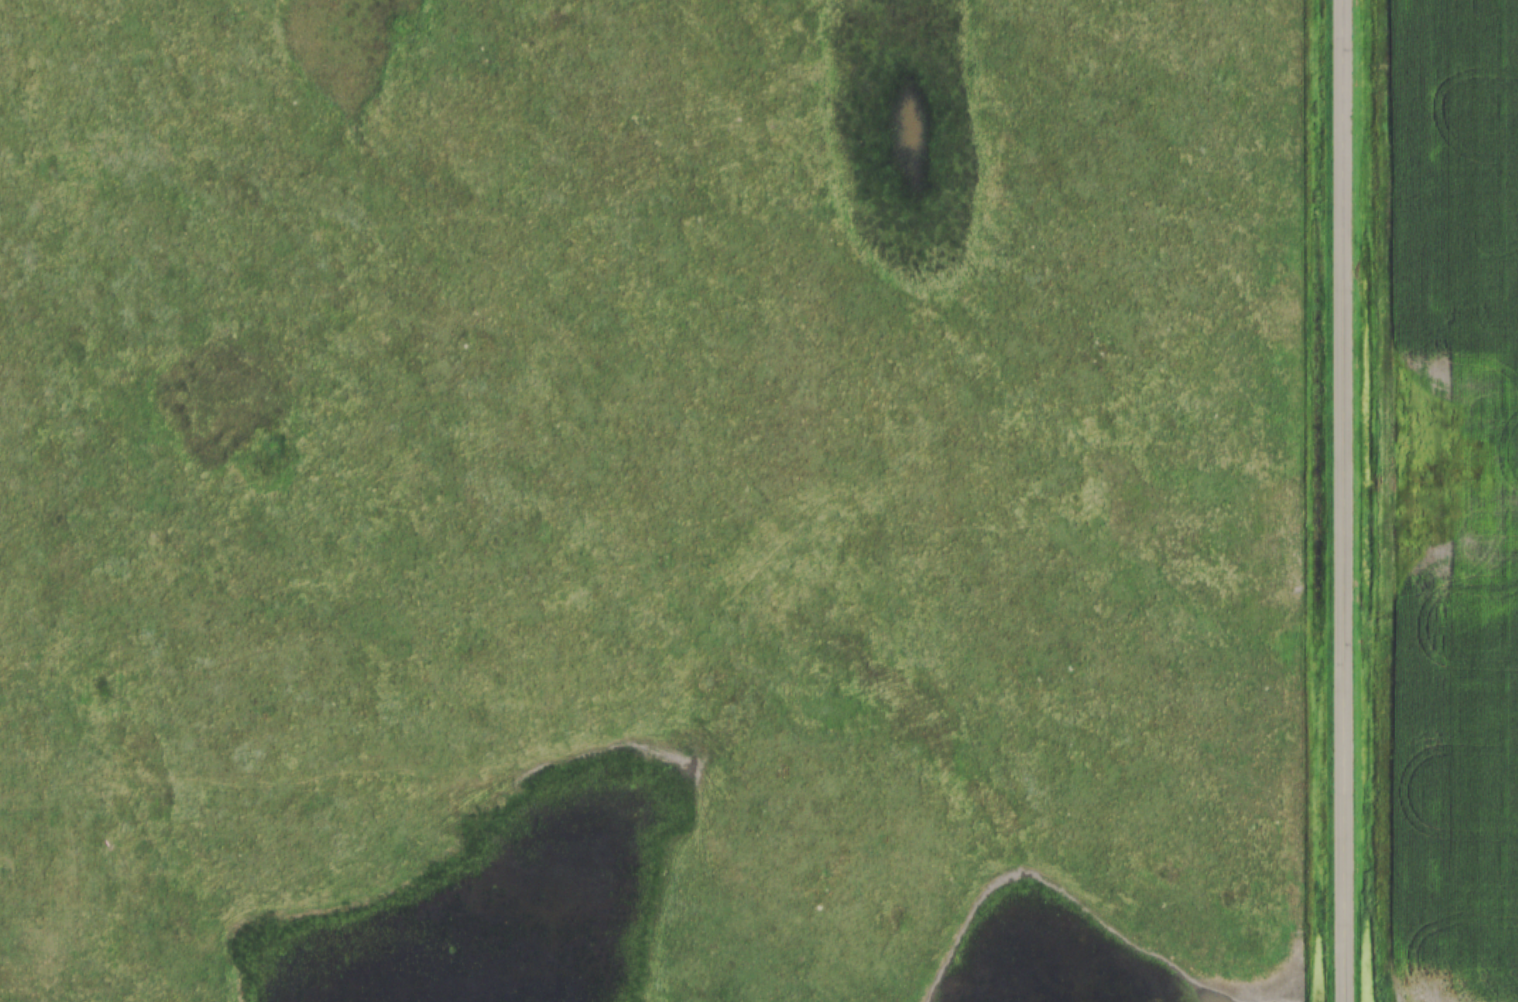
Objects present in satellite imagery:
road: (1347, 500)

